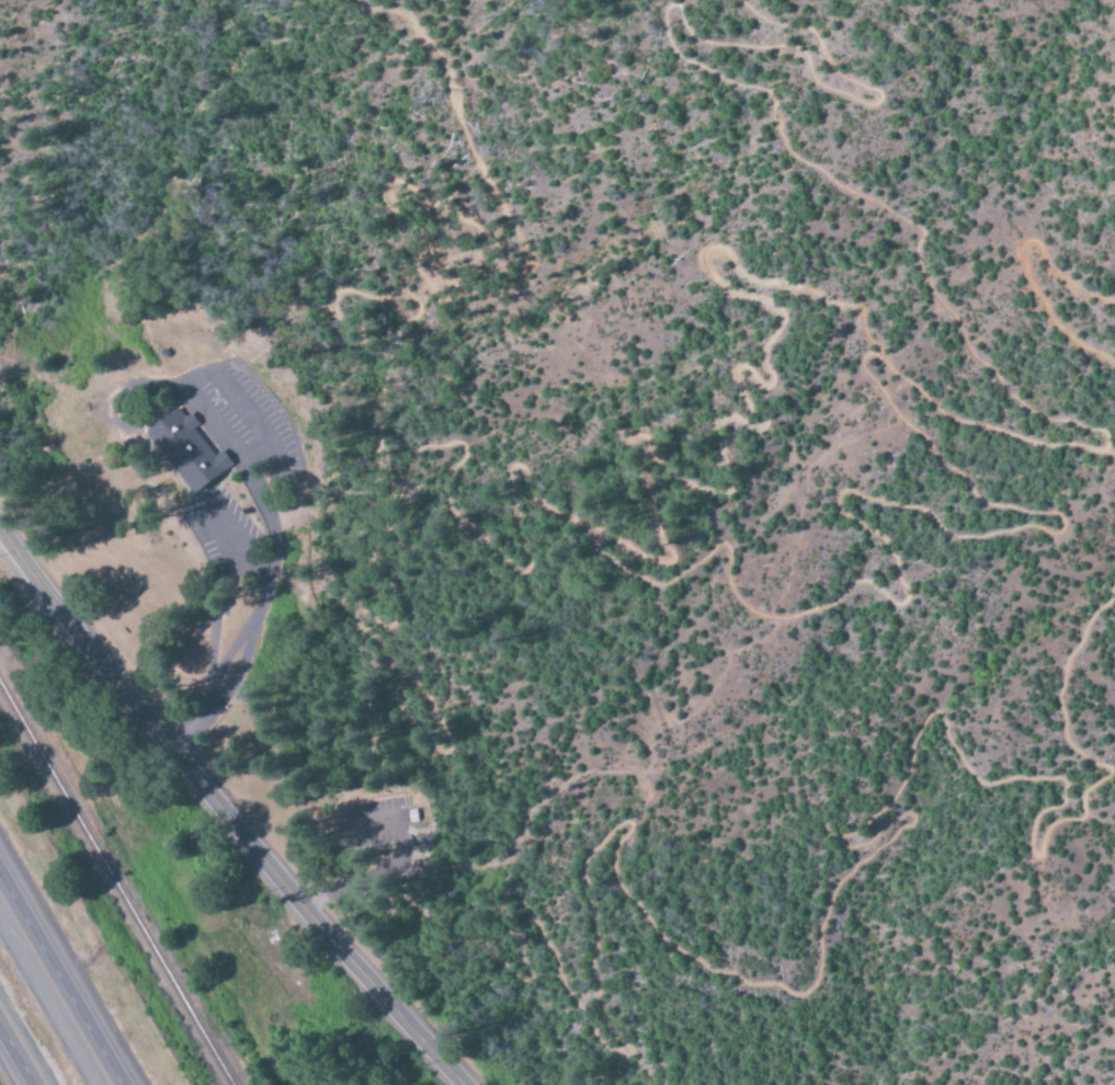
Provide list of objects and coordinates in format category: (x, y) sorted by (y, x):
road: (755, 92)
road: (1113, 115)
road: (396, 218)
road: (1026, 270)
road: (728, 380)
building: (181, 448)
road: (1110, 452)
road: (682, 564)
road: (253, 620)
road: (535, 810)
building: (406, 814)
road: (224, 815)
parking lot: (365, 822)
road: (389, 864)
railway: (113, 890)
road: (821, 935)
road: (60, 980)
road: (16, 1055)

